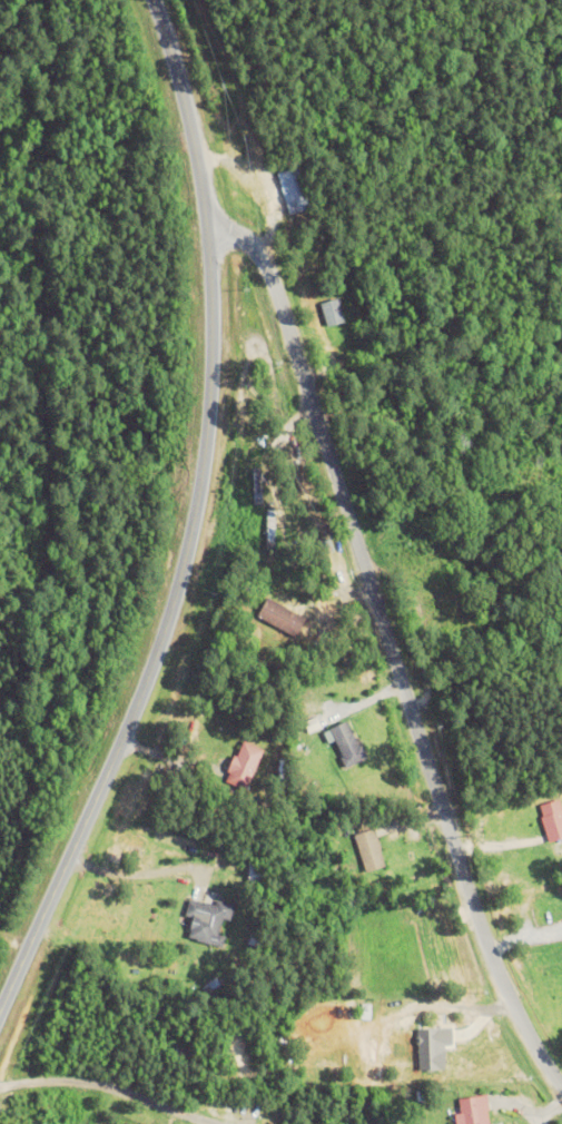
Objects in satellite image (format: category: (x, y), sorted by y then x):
building: (293, 187)
building: (328, 309)
building: (486, 505)
road: (190, 516)
building: (513, 578)
building: (306, 625)
road: (390, 645)
building: (343, 743)
building: (241, 765)
building: (550, 817)
building: (366, 848)
building: (205, 921)
building: (415, 1055)
road: (112, 1086)
building: (470, 1108)

